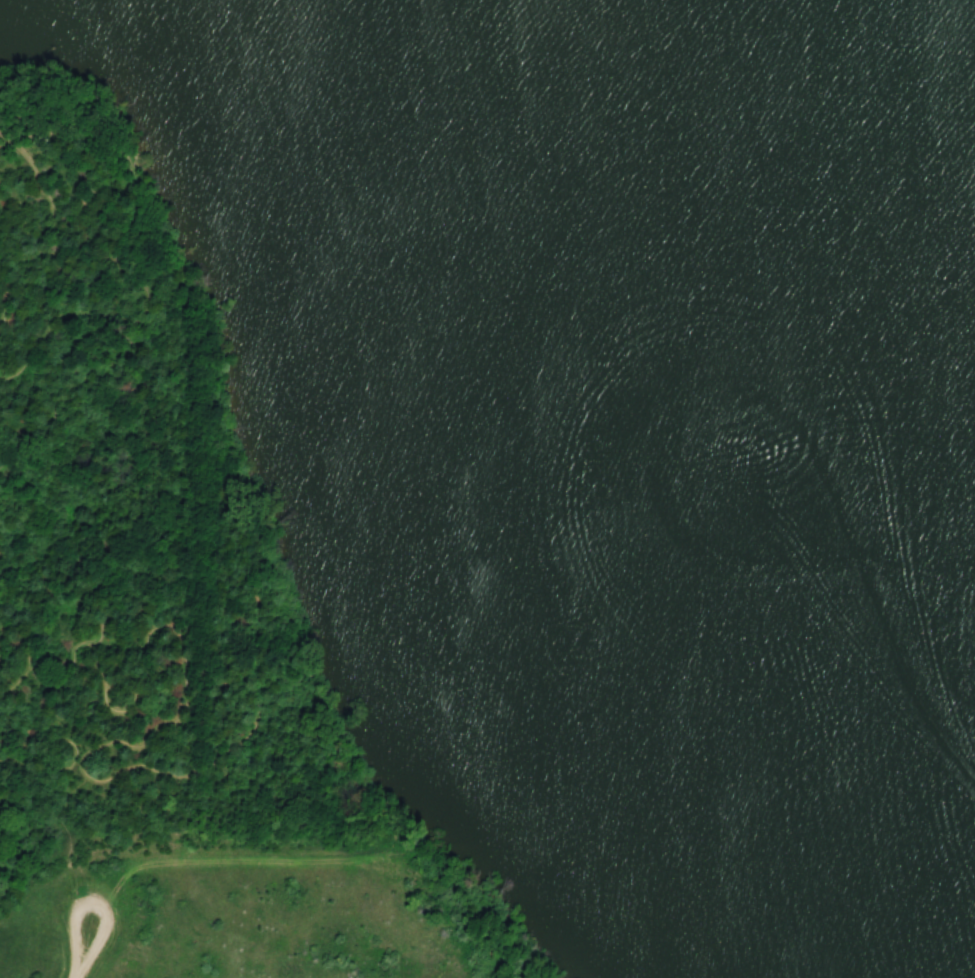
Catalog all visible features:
road: (105, 229)
road: (1, 294)
park: (487, 489)
road: (89, 774)
road: (84, 940)

